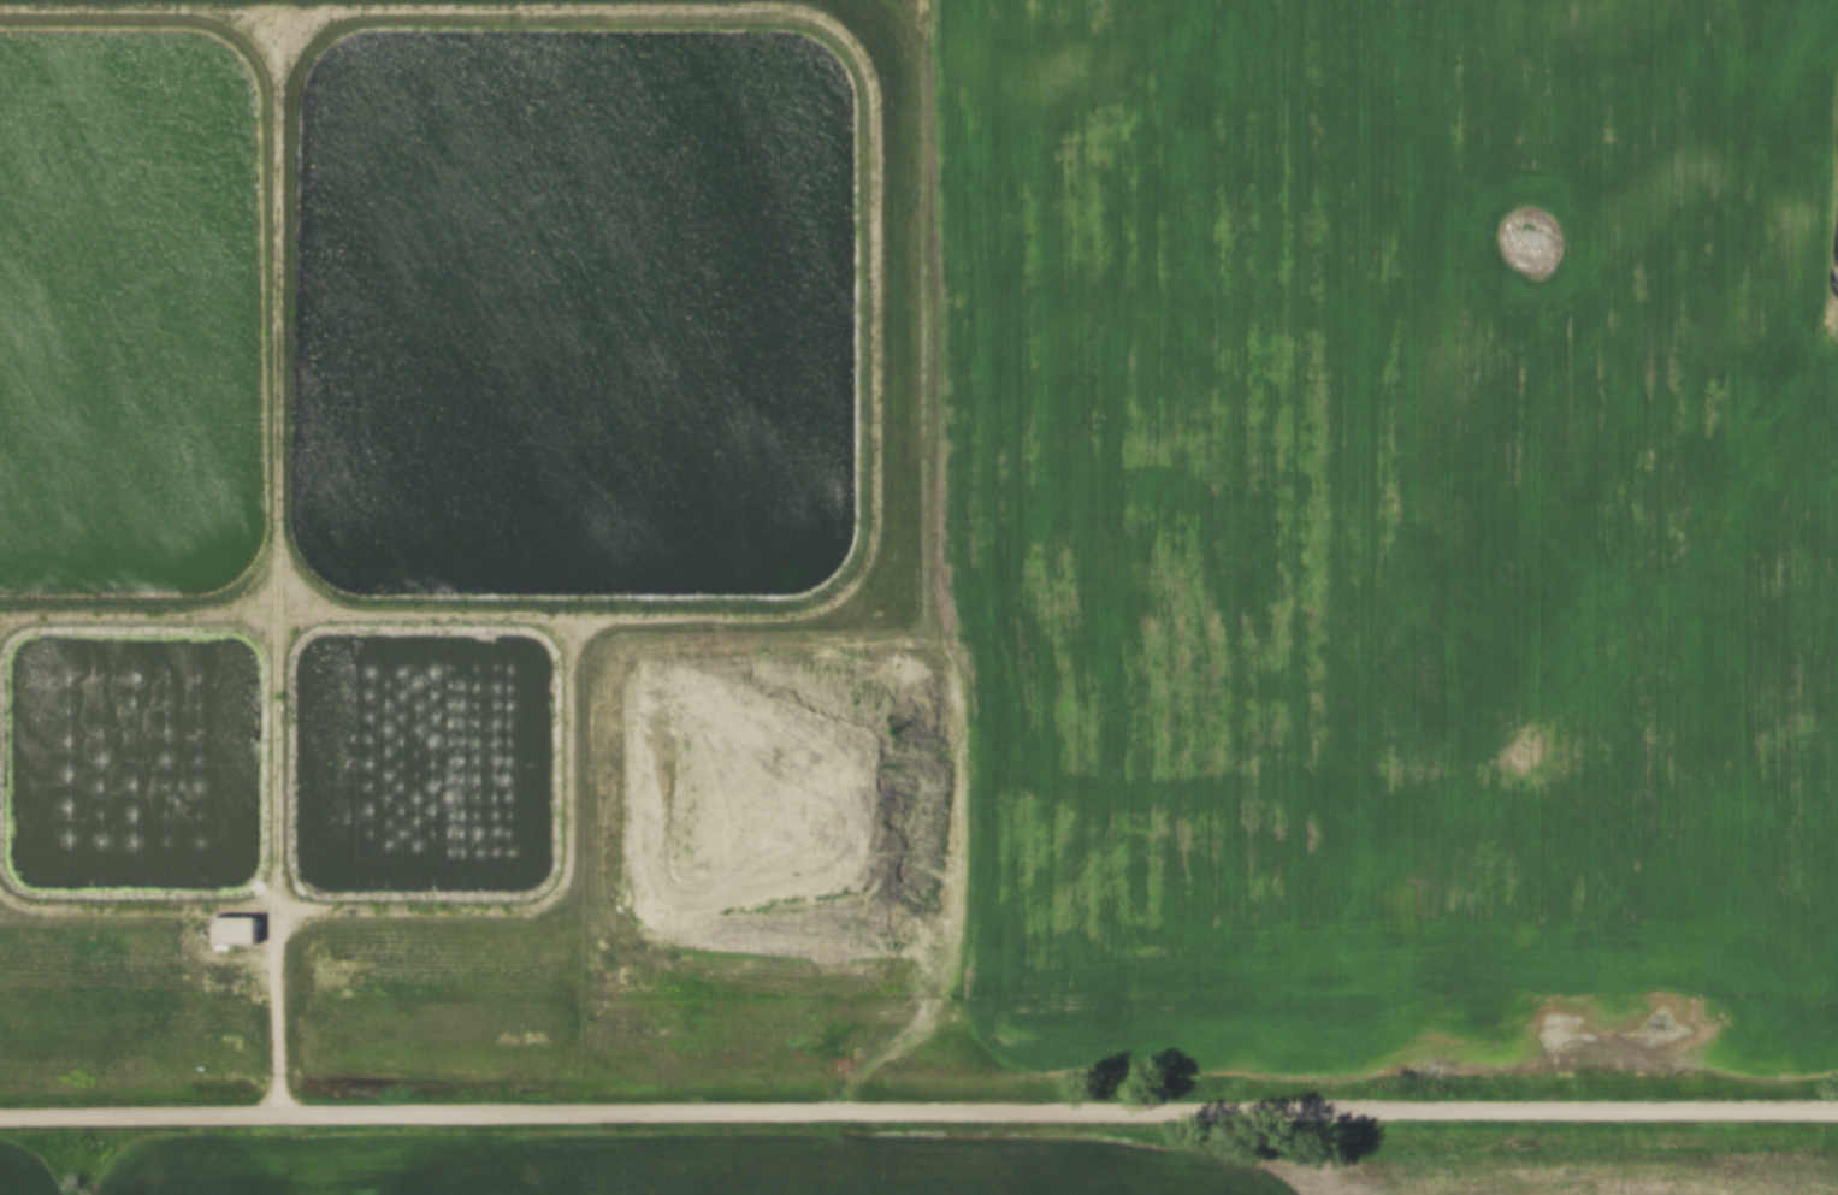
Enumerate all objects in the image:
road: (273, 556)
road: (737, 607)
road: (415, 900)
building: (227, 921)
road: (918, 1111)

